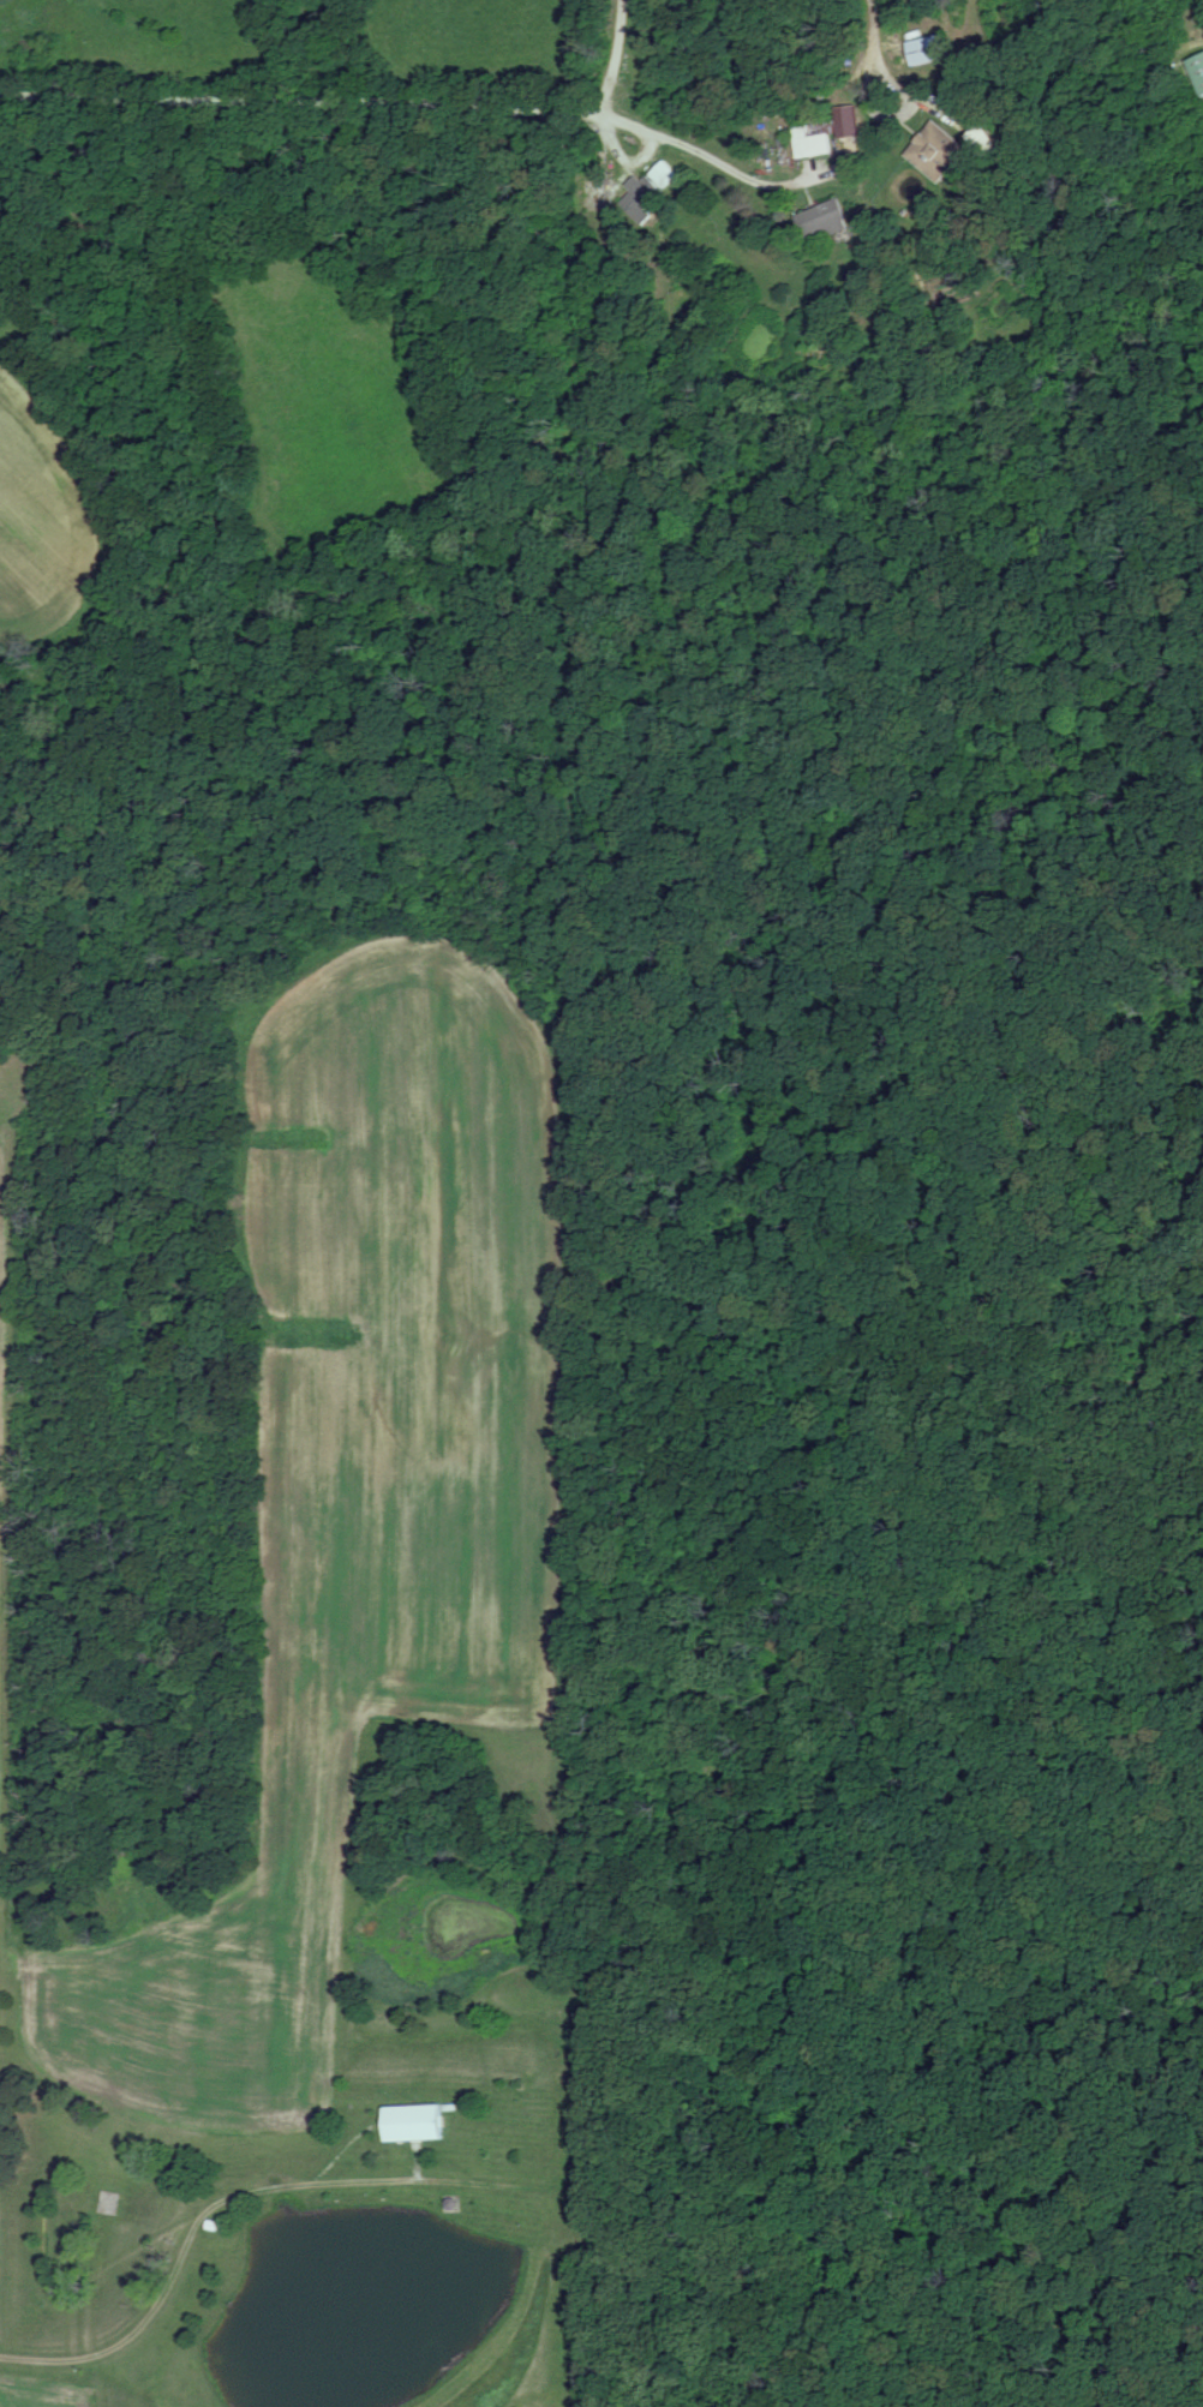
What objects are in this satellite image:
road: (1202, 0)
building: (930, 50)
road: (866, 56)
road: (605, 61)
building: (1197, 71)
road: (420, 106)
building: (812, 140)
building: (989, 146)
building: (939, 152)
building: (651, 191)
building: (824, 222)
building: (418, 2125)
building: (109, 2205)
road: (193, 2245)

